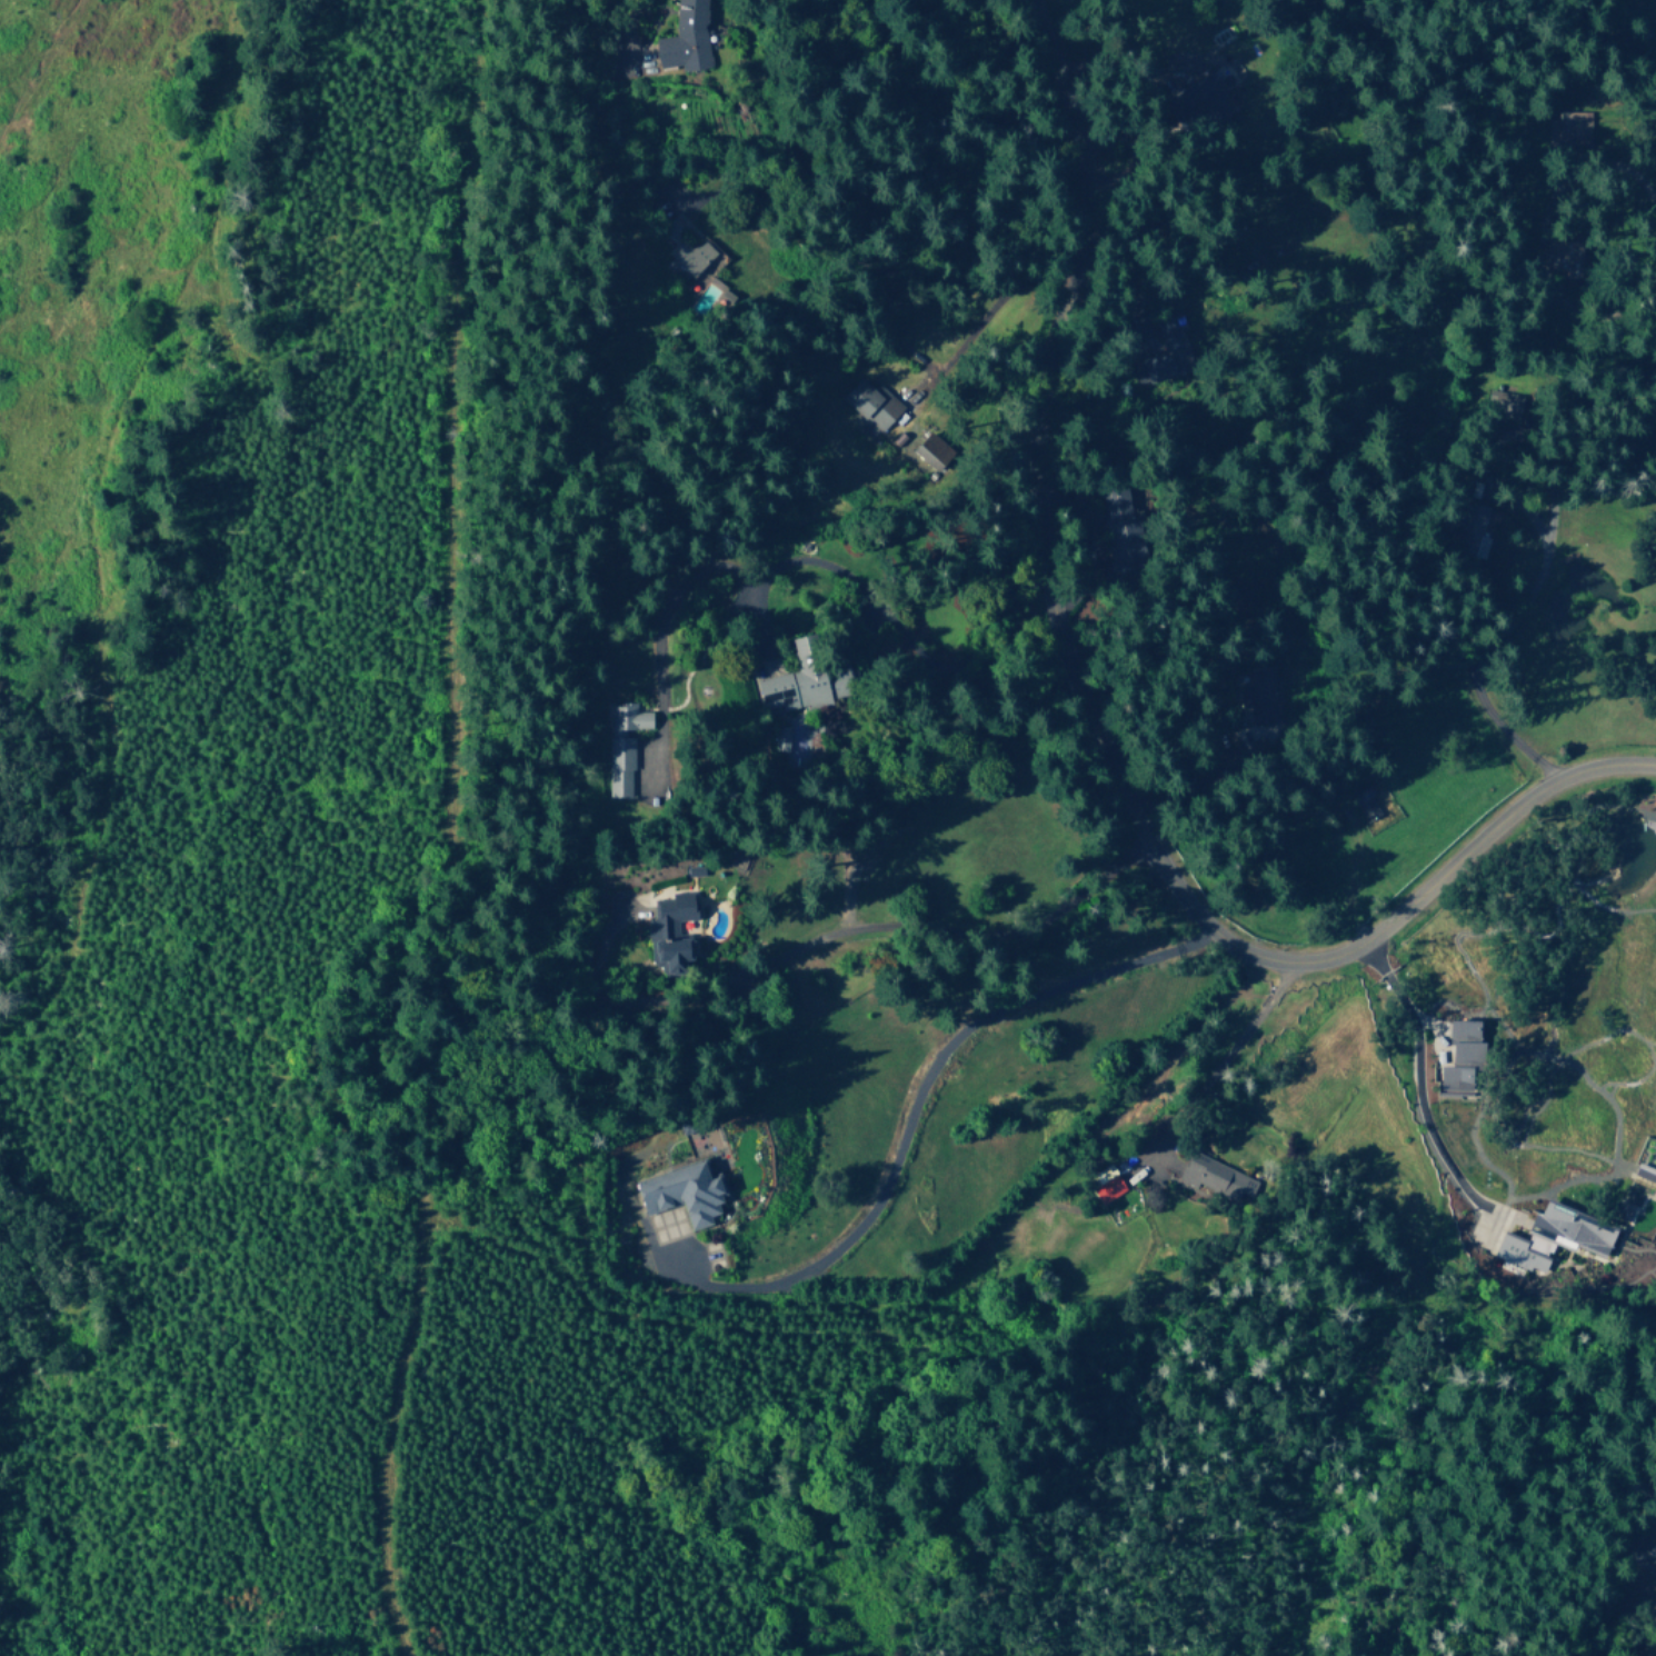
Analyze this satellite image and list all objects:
building: (684, 38)
building: (1195, 96)
building: (1568, 128)
building: (669, 227)
building: (689, 255)
building: (1559, 257)
building: (1161, 356)
building: (870, 403)
building: (1508, 405)
building: (930, 450)
building: (1473, 520)
building: (1119, 531)
building: (804, 680)
building: (1258, 694)
road: (1104, 726)
building: (778, 738)
building: (621, 745)
building: (1363, 804)
building: (668, 932)
building: (1463, 1041)
road: (1415, 1078)
building: (1452, 1078)
building: (1216, 1177)
building: (1106, 1188)
building: (680, 1194)
building: (1552, 1237)

